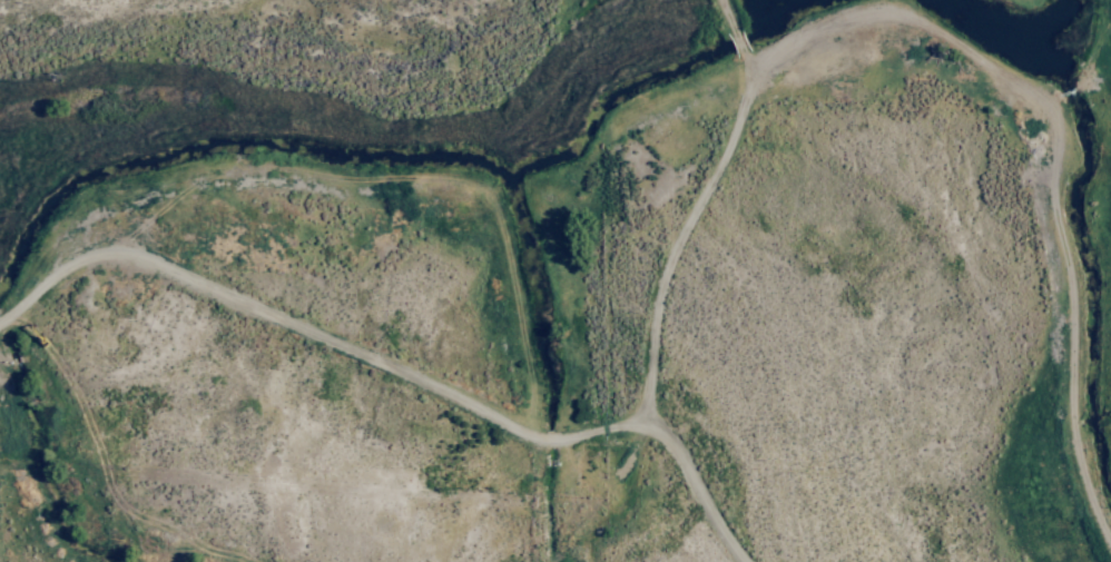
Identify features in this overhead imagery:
road: (1041, 180)
road: (515, 424)
road: (701, 487)

